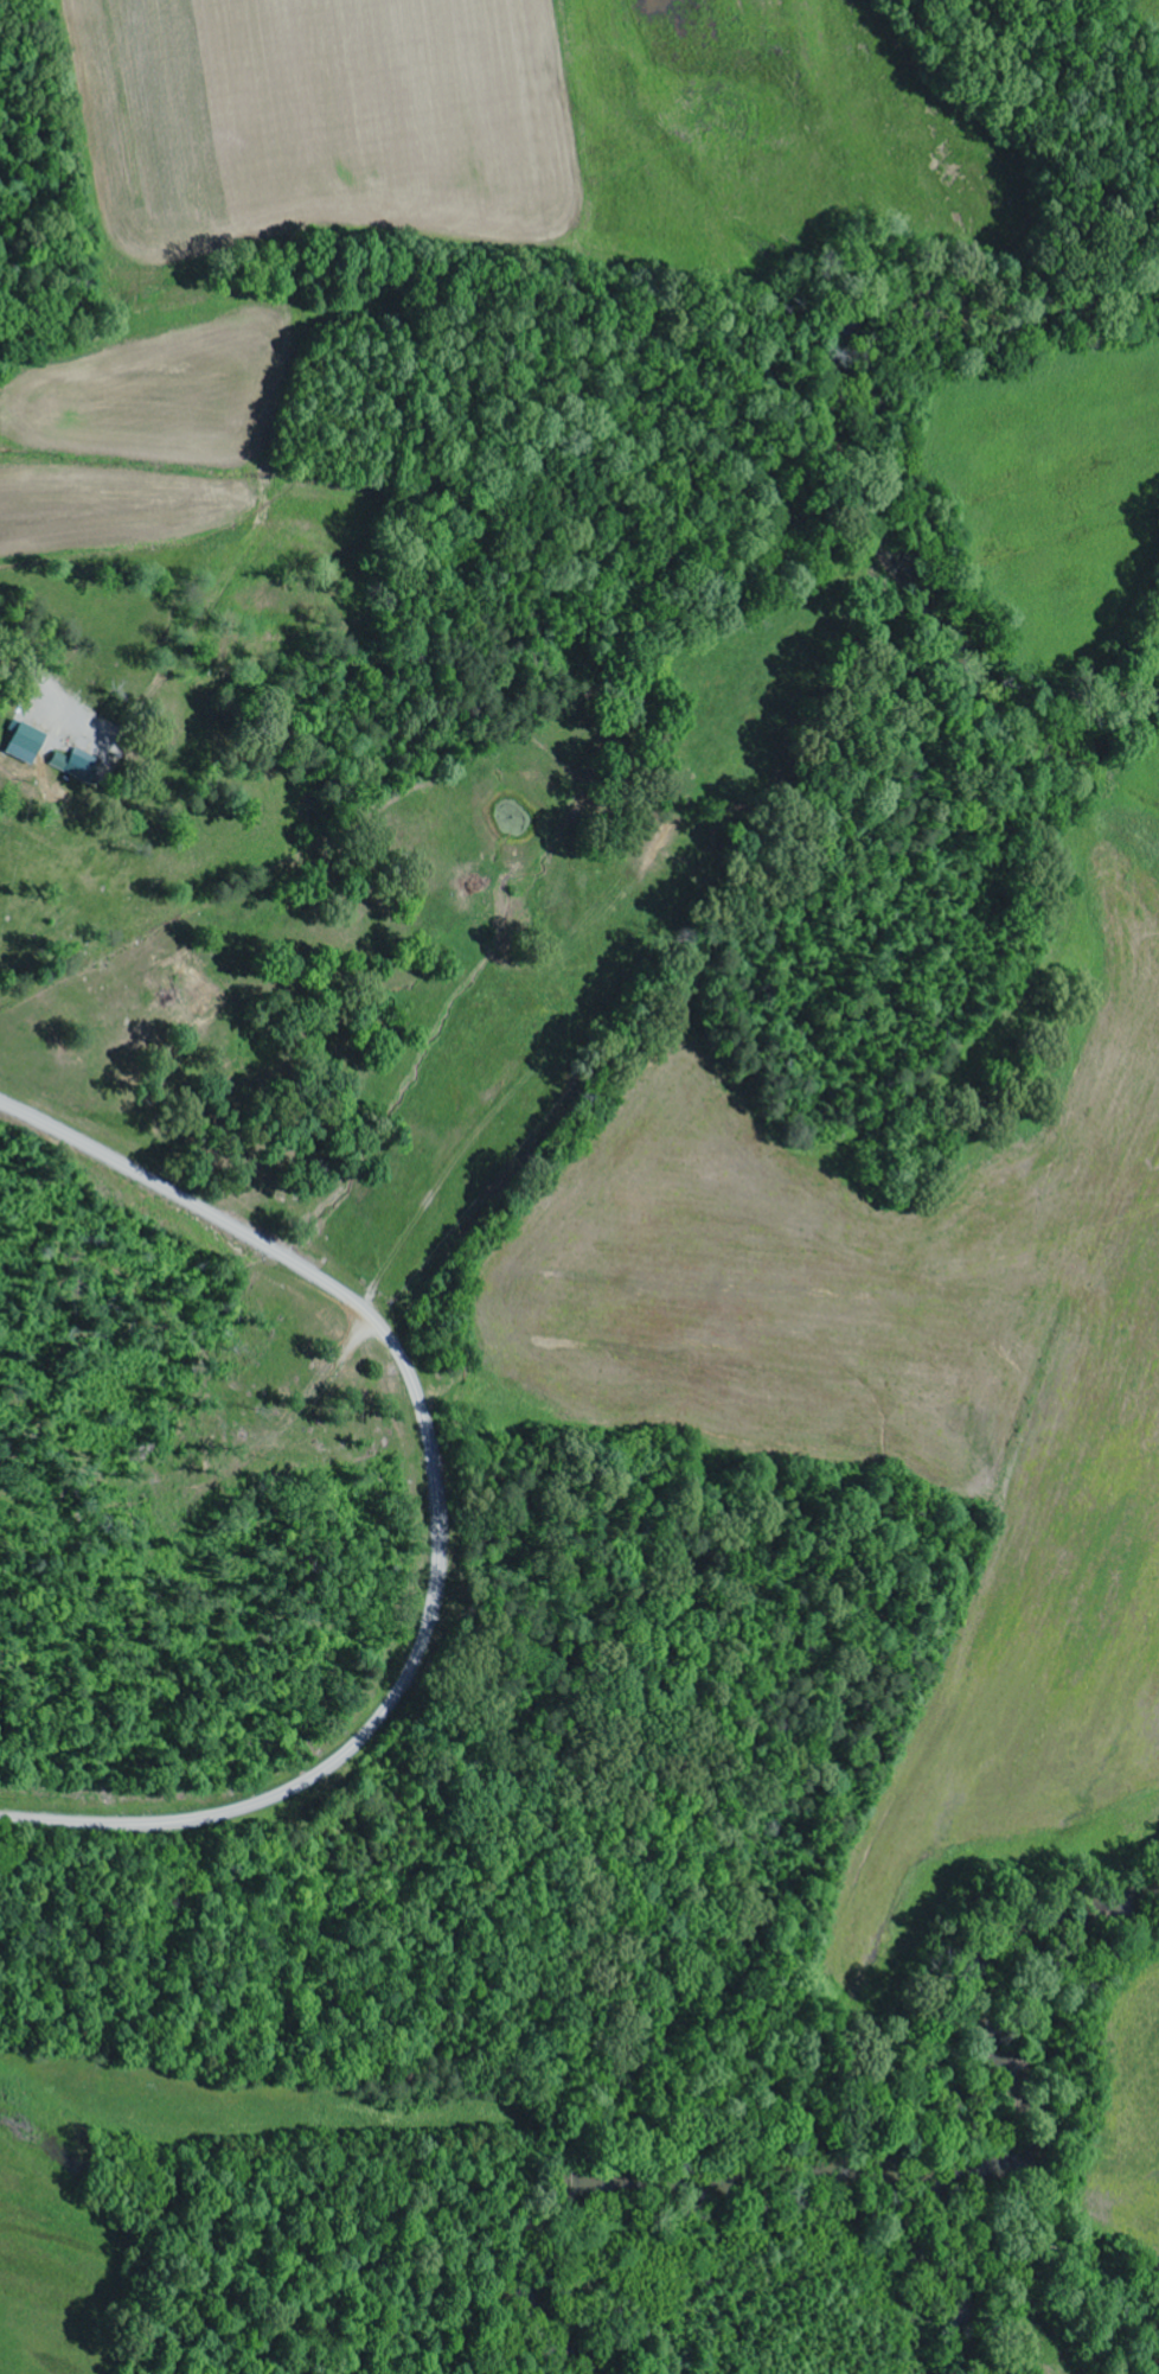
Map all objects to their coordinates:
river: (849, 496)
building: (27, 742)
road: (438, 1510)
river: (869, 2172)

